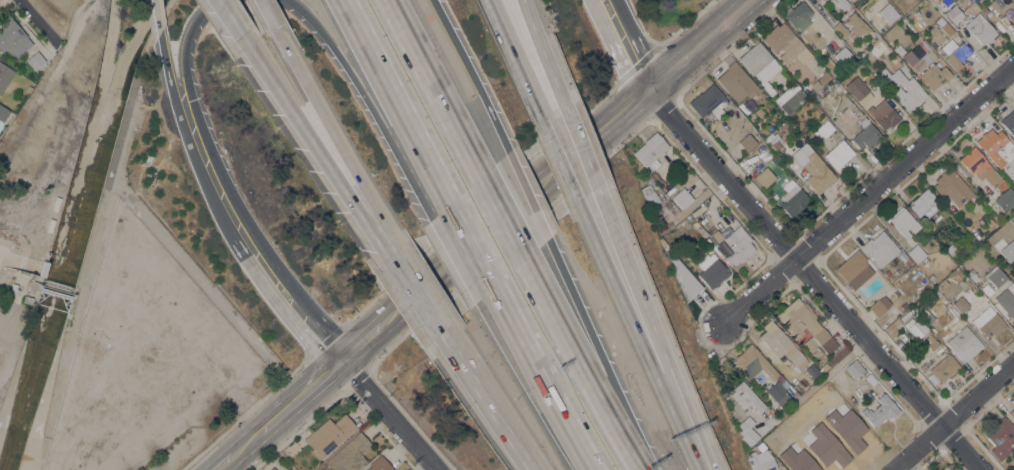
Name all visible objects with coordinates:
building: (827, 0)
building: (849, 0)
building: (840, 3)
road: (733, 6)
park: (671, 8)
building: (888, 13)
building: (954, 13)
building: (798, 15)
building: (1012, 18)
road: (39, 21)
road: (269, 24)
building: (857, 24)
road: (234, 26)
building: (945, 27)
building: (980, 28)
building: (840, 29)
road: (160, 35)
building: (13, 38)
building: (783, 42)
road: (637, 44)
building: (933, 45)
building: (878, 48)
road: (616, 50)
building: (955, 53)
road: (545, 54)
building: (843, 55)
building: (861, 56)
road: (340, 58)
building: (35, 61)
road: (513, 62)
building: (759, 64)
building: (833, 71)
road: (475, 74)
building: (934, 75)
building: (5, 76)
building: (824, 77)
building: (737, 82)
building: (816, 85)
road: (436, 87)
building: (912, 87)
building: (859, 90)
building: (790, 97)
building: (816, 98)
building: (830, 98)
building: (708, 101)
road: (194, 103)
road: (392, 103)
building: (3, 112)
building: (759, 112)
building: (884, 114)
building: (1009, 121)
building: (823, 130)
building: (764, 131)
building: (866, 135)
building: (1013, 139)
building: (749, 141)
building: (775, 142)
building: (996, 146)
road: (191, 148)
road: (581, 148)
building: (651, 148)
road: (335, 151)
road: (319, 153)
building: (839, 155)
road: (568, 162)
road: (560, 165)
road: (414, 167)
building: (980, 167)
building: (813, 168)
building: (765, 177)
building: (953, 186)
road: (868, 194)
road: (528, 195)
building: (650, 196)
building: (683, 198)
building: (1005, 199)
building: (793, 200)
building: (925, 203)
road: (504, 216)
building: (904, 222)
building: (990, 222)
building: (697, 227)
building: (111, 230)
road: (259, 238)
road: (235, 241)
building: (732, 245)
road: (469, 247)
building: (880, 248)
building: (951, 249)
building: (918, 255)
building: (907, 262)
road: (91, 264)
building: (42, 268)
building: (854, 269)
building: (711, 270)
building: (973, 276)
building: (996, 276)
building: (931, 277)
road: (816, 280)
building: (687, 281)
building: (941, 285)
building: (32, 286)
dam: (57, 287)
road: (206, 287)
road: (414, 296)
building: (27, 299)
building: (1006, 301)
building: (960, 303)
building: (33, 305)
building: (904, 305)
building: (879, 306)
road: (645, 307)
road: (314, 310)
building: (68, 314)
road: (288, 315)
road: (635, 316)
building: (927, 316)
building: (988, 322)
building: (806, 327)
road: (589, 331)
road: (362, 342)
road: (572, 342)
building: (932, 342)
building: (964, 343)
building: (782, 345)
road: (522, 347)
building: (902, 347)
building: (837, 355)
building: (755, 363)
building: (824, 366)
building: (923, 367)
building: (854, 368)
building: (942, 369)
building: (813, 371)
building: (870, 379)
building: (778, 393)
road: (302, 394)
building: (746, 397)
road: (483, 404)
building: (880, 410)
building: (1011, 412)
road: (388, 414)
road: (955, 418)
building: (748, 430)
building: (329, 434)
road: (569, 438)
building: (1002, 438)
road: (250, 439)
road: (631, 448)
road: (702, 448)
road: (43, 453)
building: (350, 454)
building: (762, 458)
road: (226, 460)
building: (379, 464)
building: (272, 468)
building: (948, 469)

